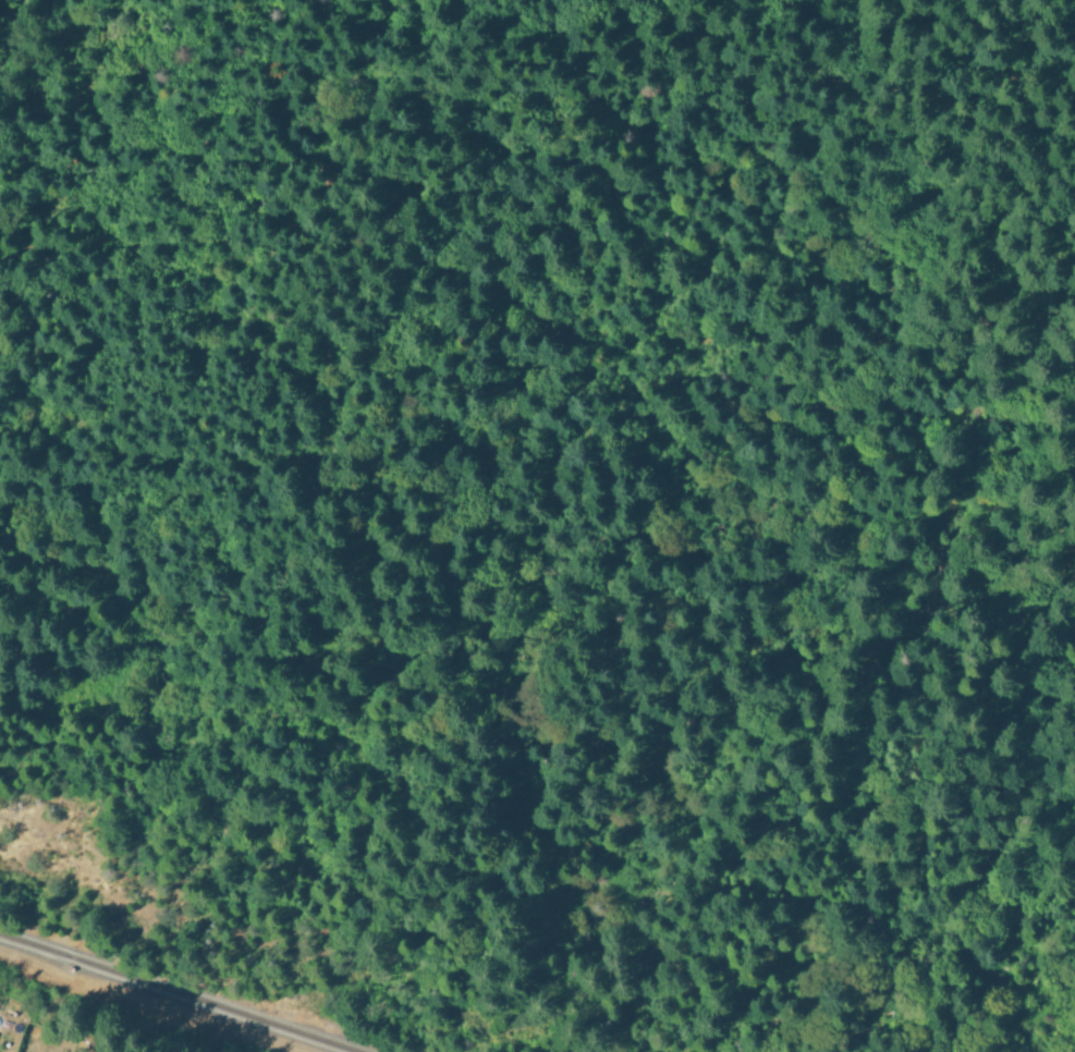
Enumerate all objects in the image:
road: (525, 159)
road: (724, 301)
railway: (173, 994)

